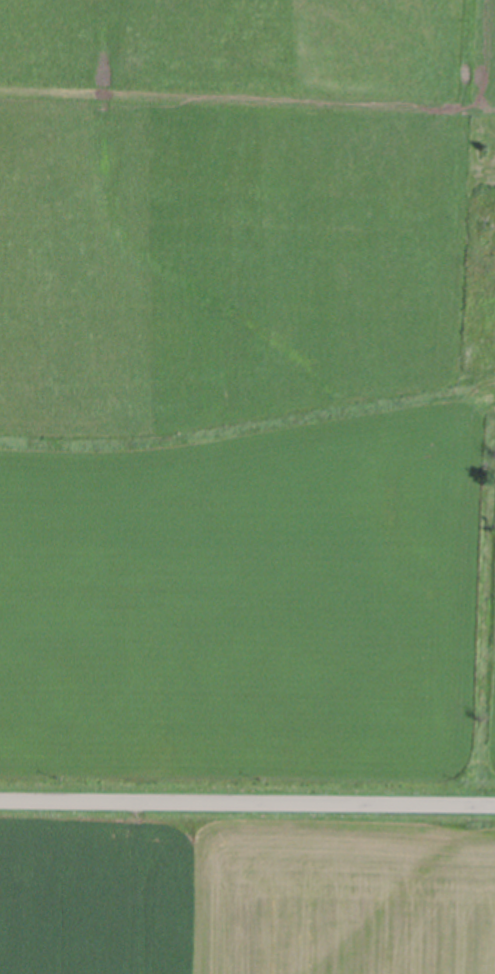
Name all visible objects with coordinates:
building: (488, 227)
road: (247, 805)

